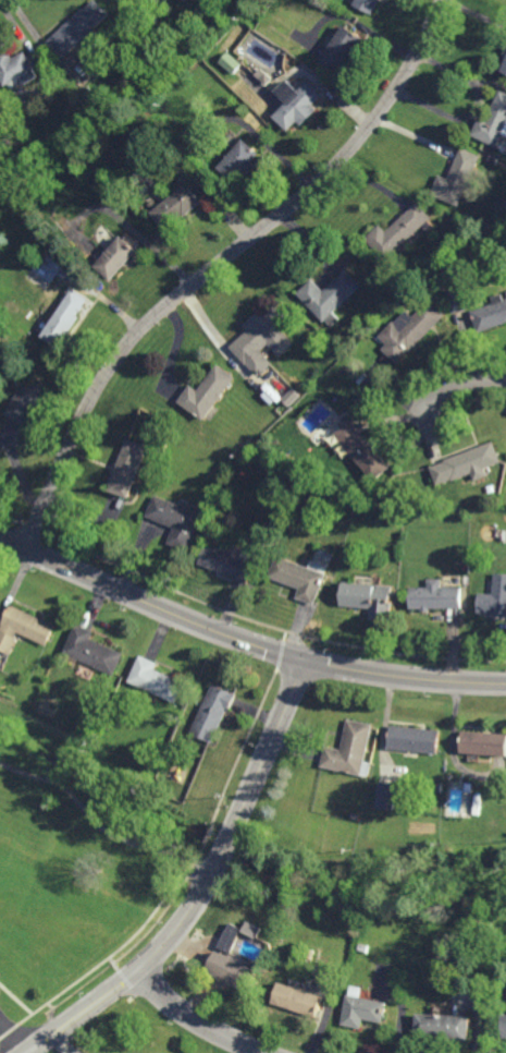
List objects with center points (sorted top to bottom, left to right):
building: (185, 0)
building: (368, 4)
building: (79, 28)
building: (341, 50)
building: (505, 60)
building: (232, 63)
building: (17, 69)
building: (505, 71)
building: (88, 94)
building: (70, 107)
building: (299, 108)
building: (493, 123)
building: (494, 160)
building: (239, 162)
building: (458, 179)
building: (182, 207)
building: (467, 226)
building: (399, 234)
building: (119, 261)
road: (219, 264)
building: (330, 294)
building: (461, 299)
building: (492, 314)
building: (63, 328)
building: (410, 329)
building: (263, 339)
road: (464, 385)
building: (207, 390)
building: (26, 399)
building: (362, 449)
building: (467, 463)
building: (128, 468)
building: (175, 520)
building: (218, 541)
building: (262, 558)
building: (230, 561)
building: (300, 577)
building: (435, 597)
building: (494, 597)
building: (369, 598)
building: (24, 629)
road: (245, 640)
building: (92, 651)
building: (156, 680)
building: (213, 712)
building: (415, 739)
building: (484, 742)
building: (350, 749)
building: (440, 787)
building: (387, 797)
building: (357, 816)
road: (100, 827)
park: (82, 843)
road: (206, 888)
building: (229, 942)
building: (365, 948)
building: (311, 955)
building: (232, 972)
building: (300, 1001)
building: (363, 1010)
road: (196, 1020)
building: (505, 1020)
building: (444, 1029)
road: (13, 1039)

